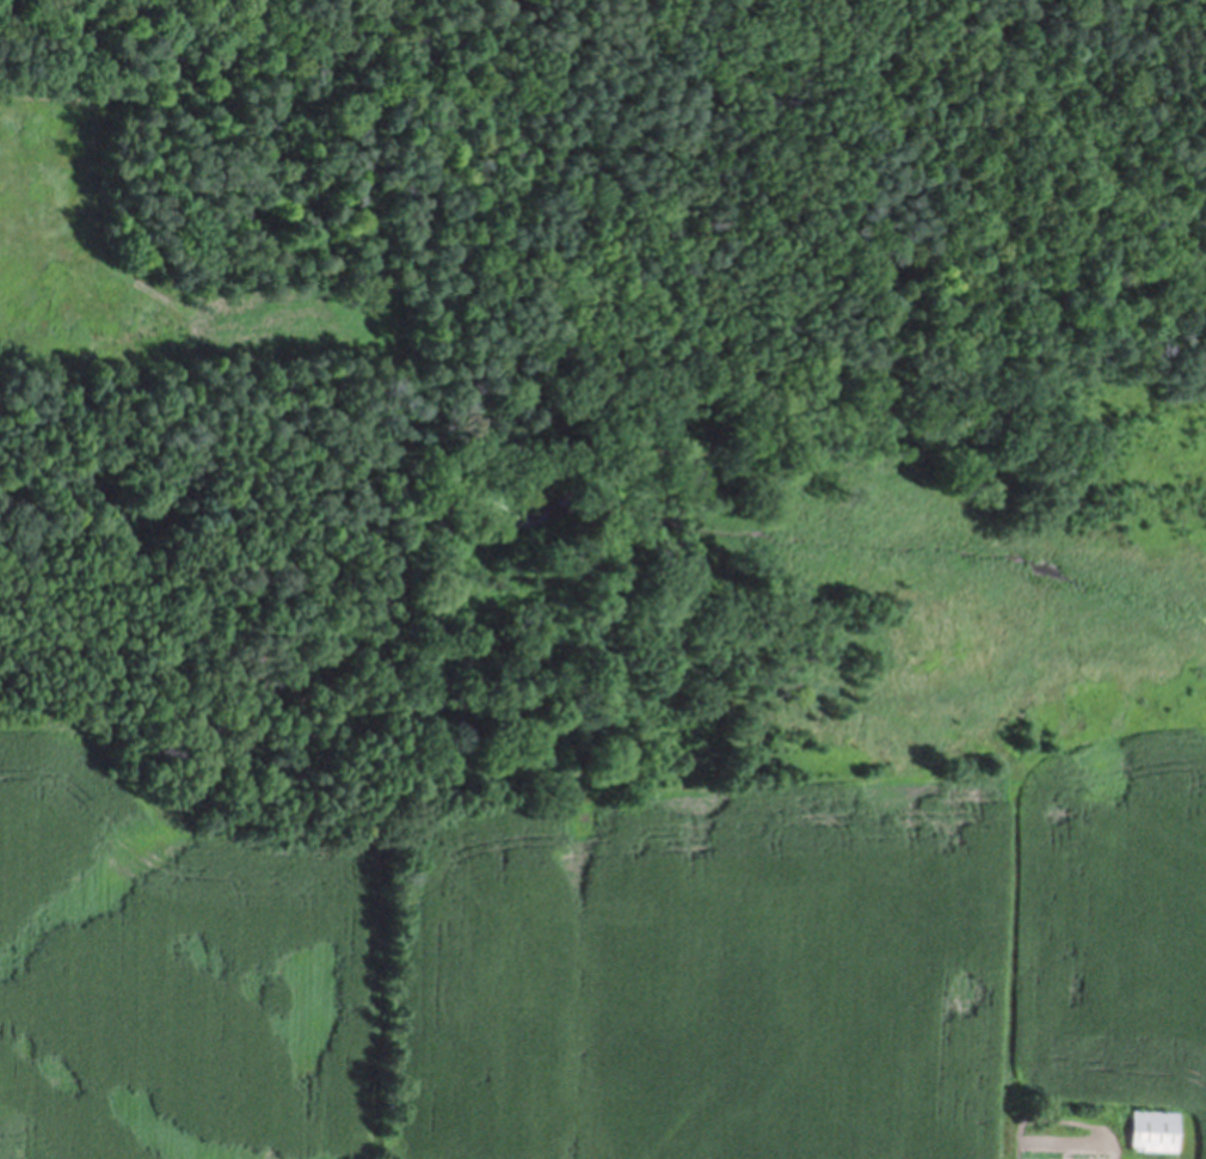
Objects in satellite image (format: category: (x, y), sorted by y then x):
building: (1149, 1128)

